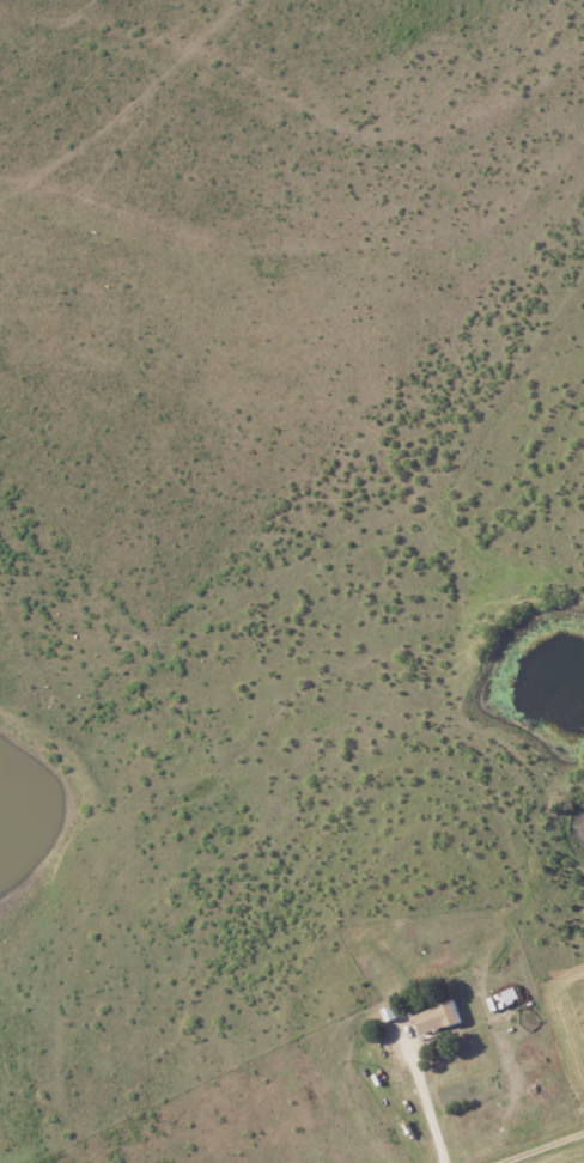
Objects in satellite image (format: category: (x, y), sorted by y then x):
road: (428, 1107)
road: (548, 1149)

